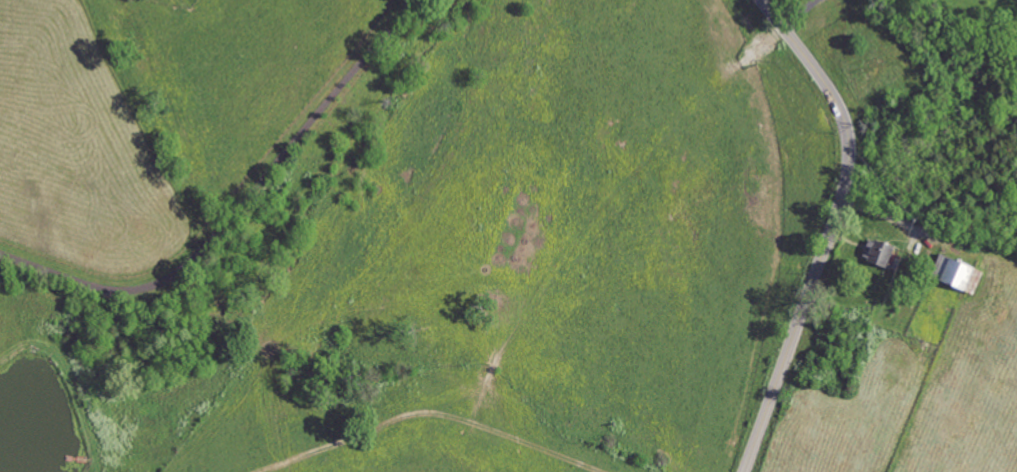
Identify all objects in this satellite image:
road: (799, 14)
road: (235, 210)
road: (832, 228)
building: (878, 254)
building: (954, 275)

